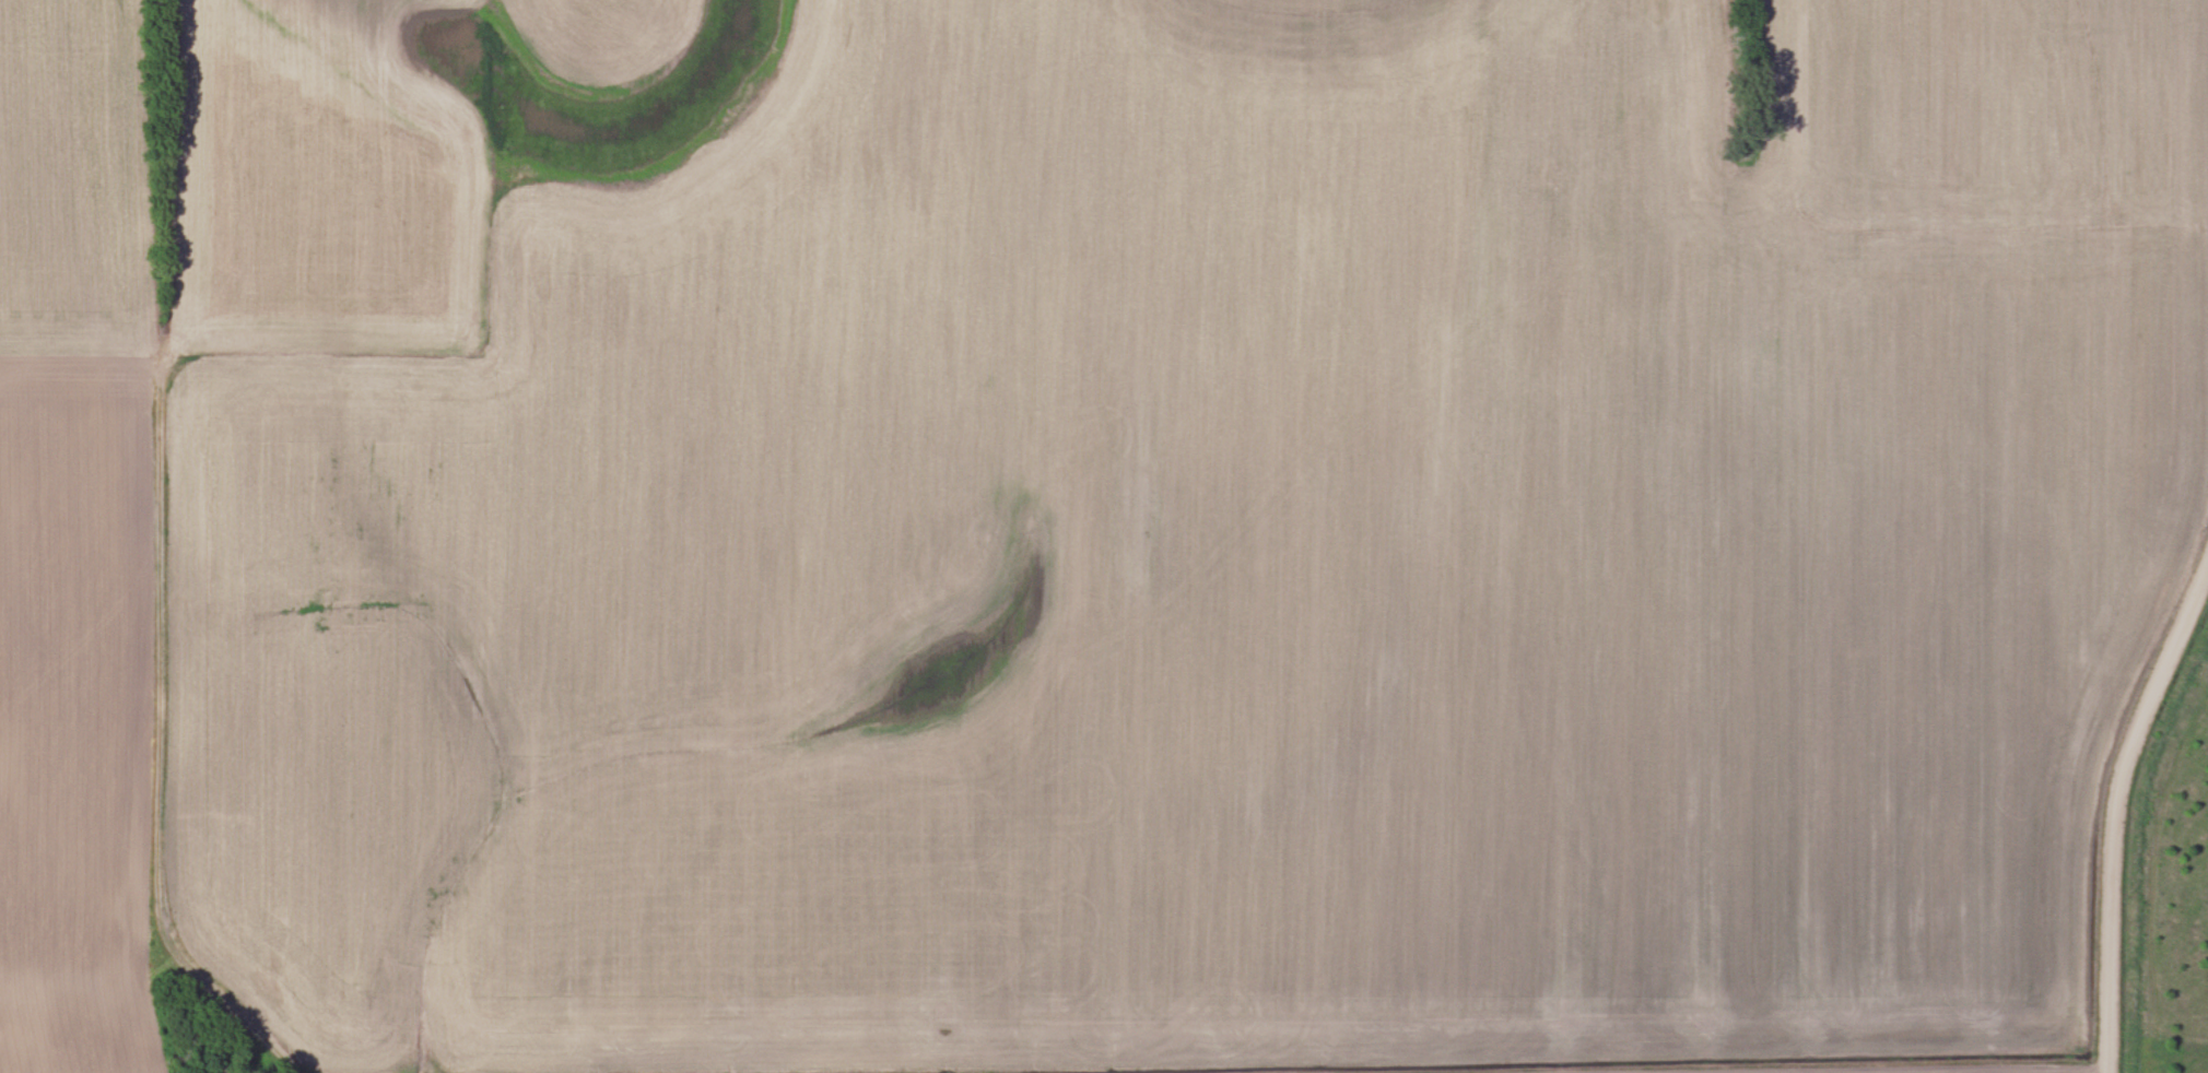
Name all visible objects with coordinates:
road: (2115, 812)
road: (2160, 862)
road: (2015, 1071)

